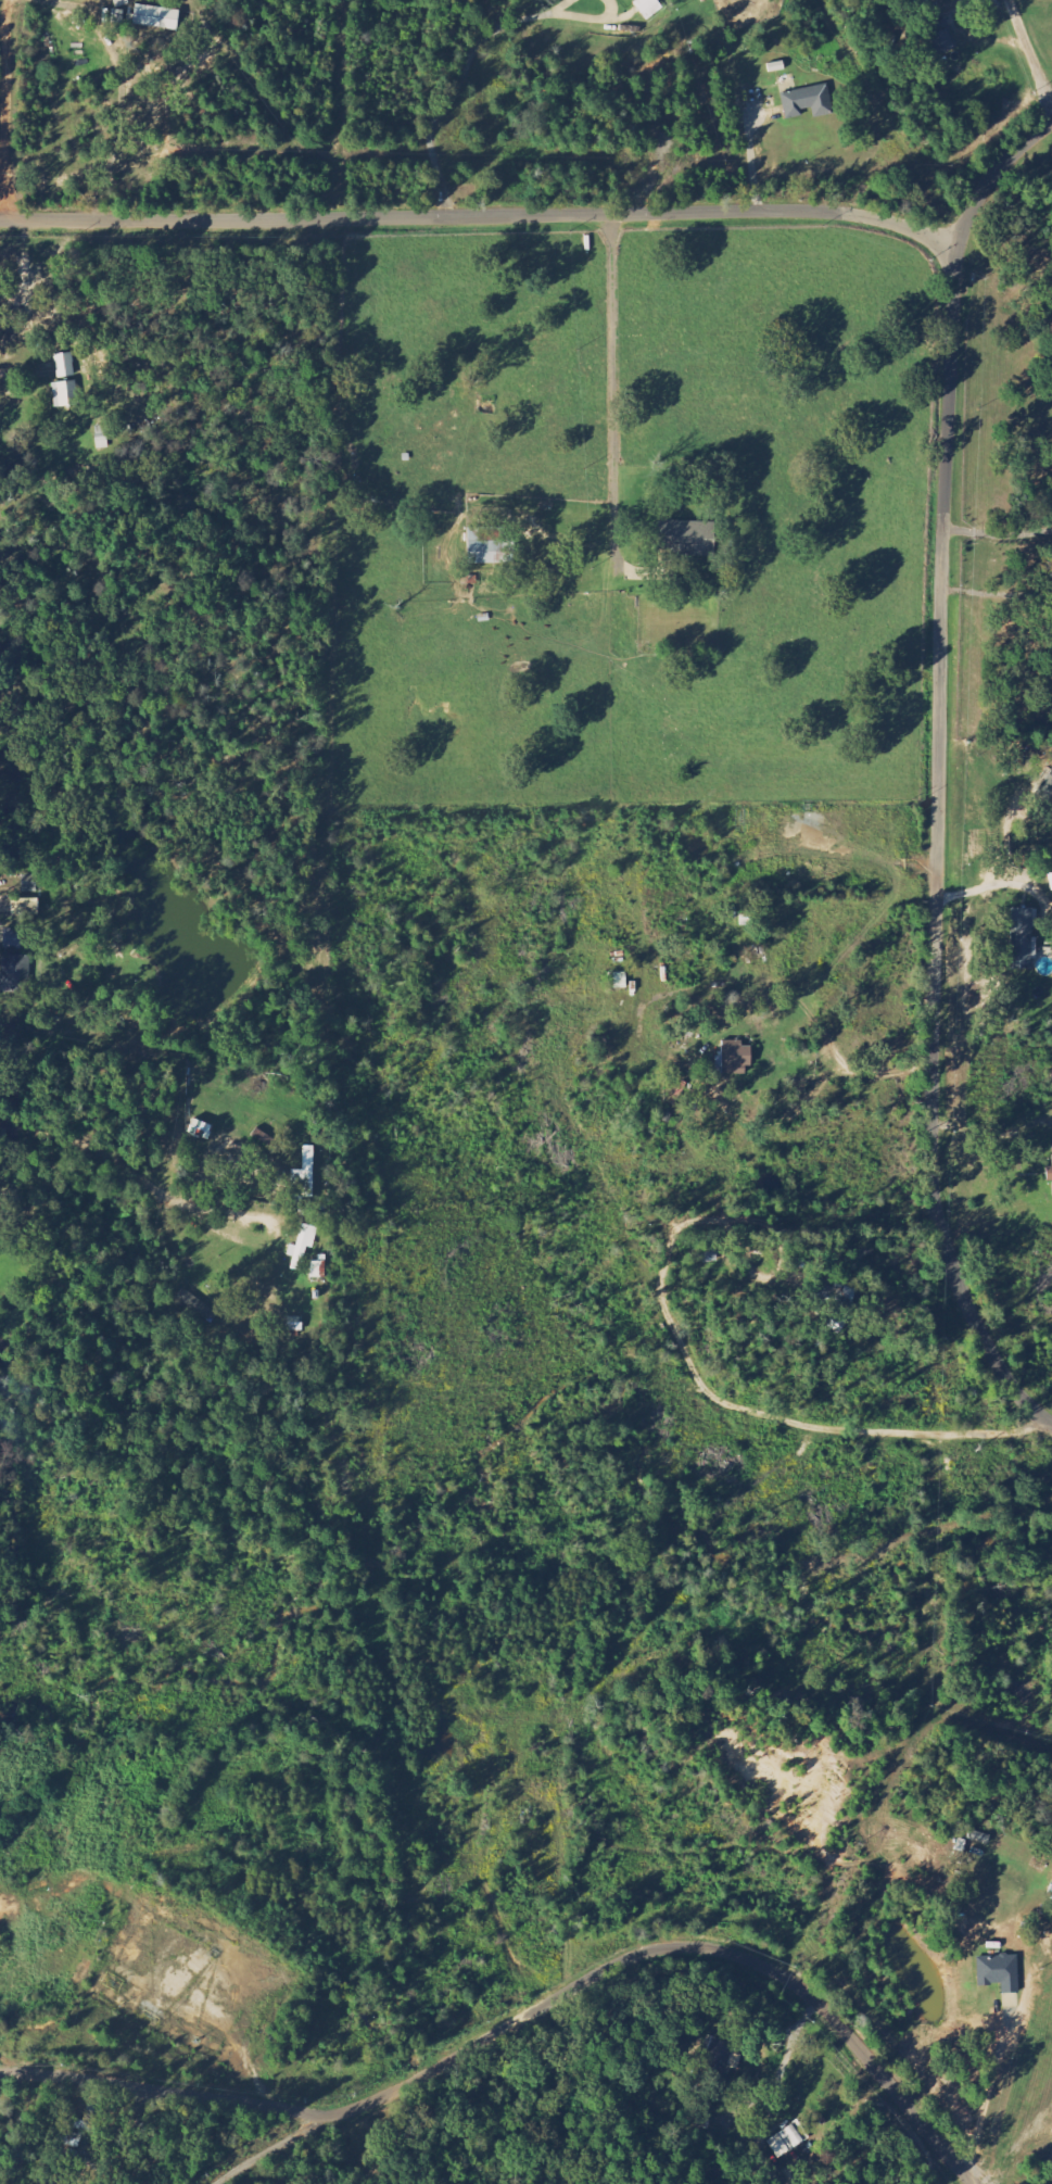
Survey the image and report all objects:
building: (629, 0)
building: (648, 8)
building: (156, 18)
building: (939, 38)
road: (1030, 54)
building: (807, 102)
road: (7, 109)
road: (484, 215)
building: (64, 366)
building: (64, 394)
building: (686, 539)
building: (486, 547)
road: (938, 769)
building: (1047, 788)
building: (1022, 938)
building: (11, 939)
building: (12, 974)
building: (617, 982)
road: (859, 1075)
building: (199, 1128)
road: (139, 1173)
building: (305, 1173)
building: (1049, 1174)
building: (301, 1246)
building: (317, 1268)
building: (834, 1295)
building: (835, 1323)
building: (998, 1973)
road: (529, 2008)
building: (717, 2050)
road: (988, 2096)
building: (787, 2138)
road: (947, 2172)

